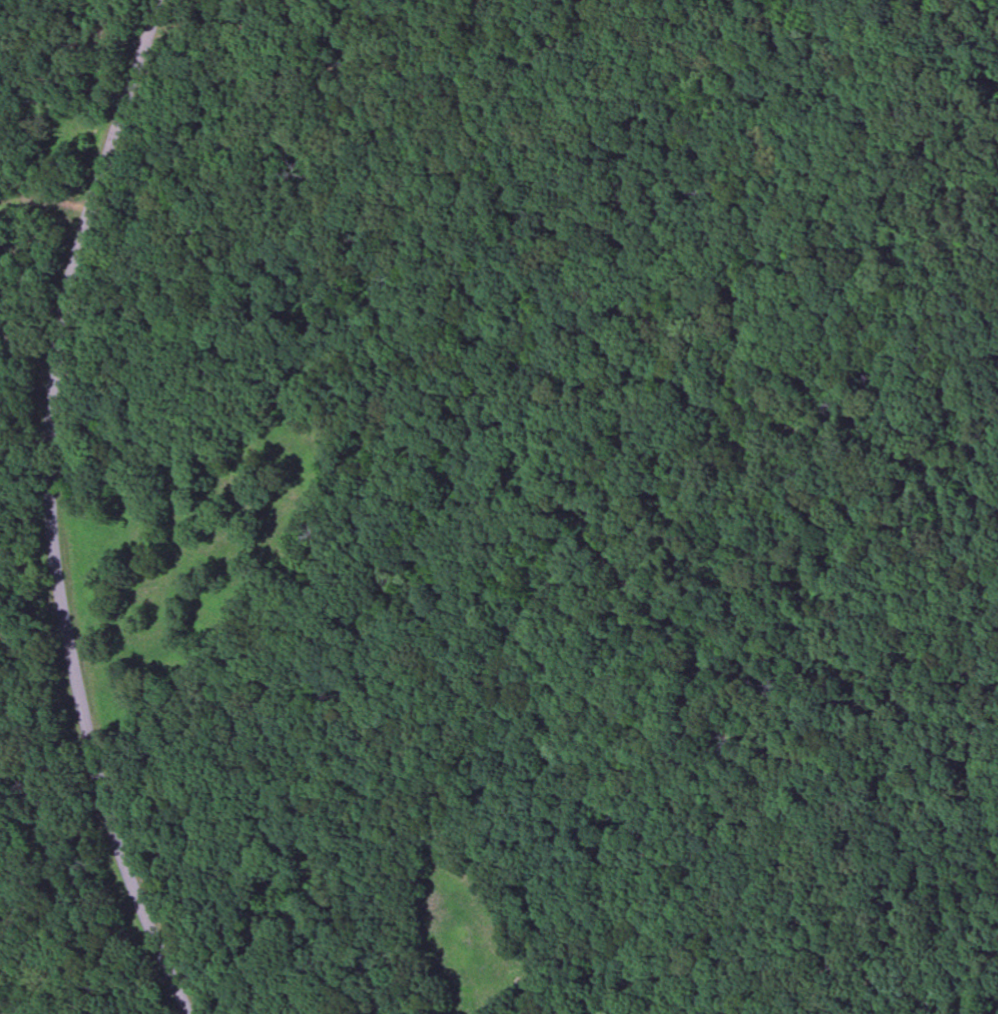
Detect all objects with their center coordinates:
road: (57, 509)

